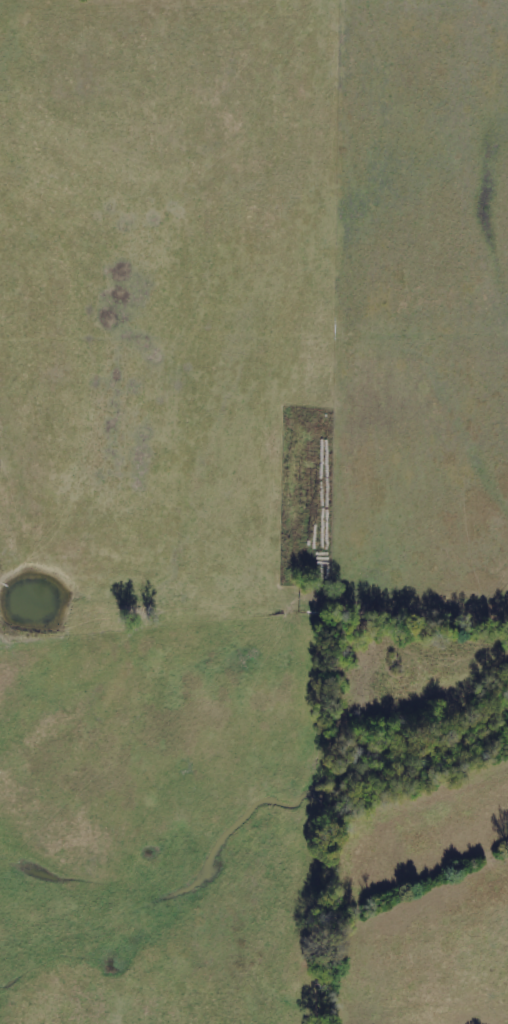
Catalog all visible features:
road: (254, 610)

